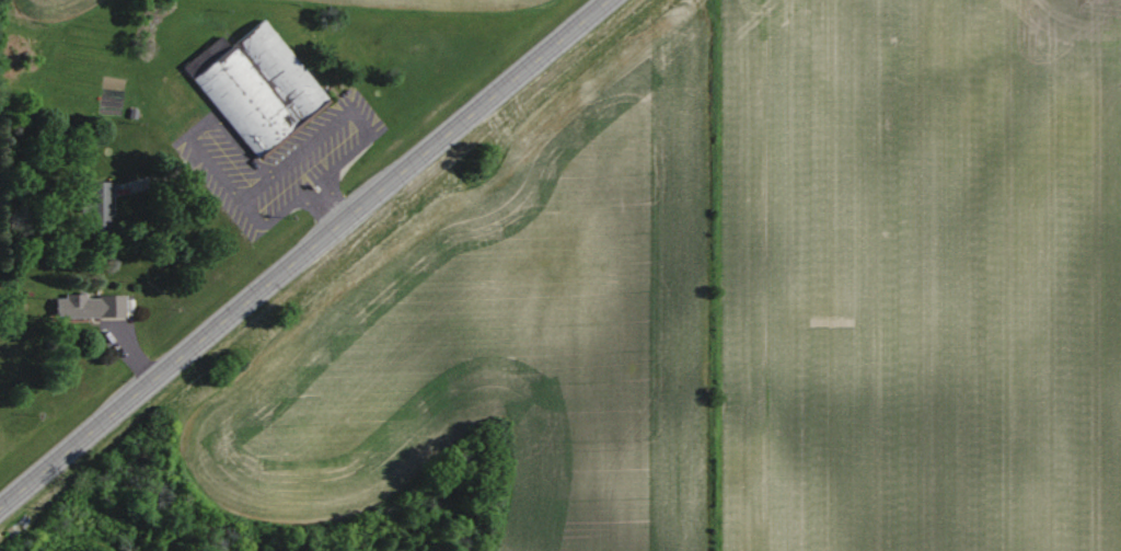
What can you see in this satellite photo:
building: (257, 88)
road: (299, 154)
building: (96, 207)
road: (331, 210)
road: (305, 253)
building: (89, 306)

